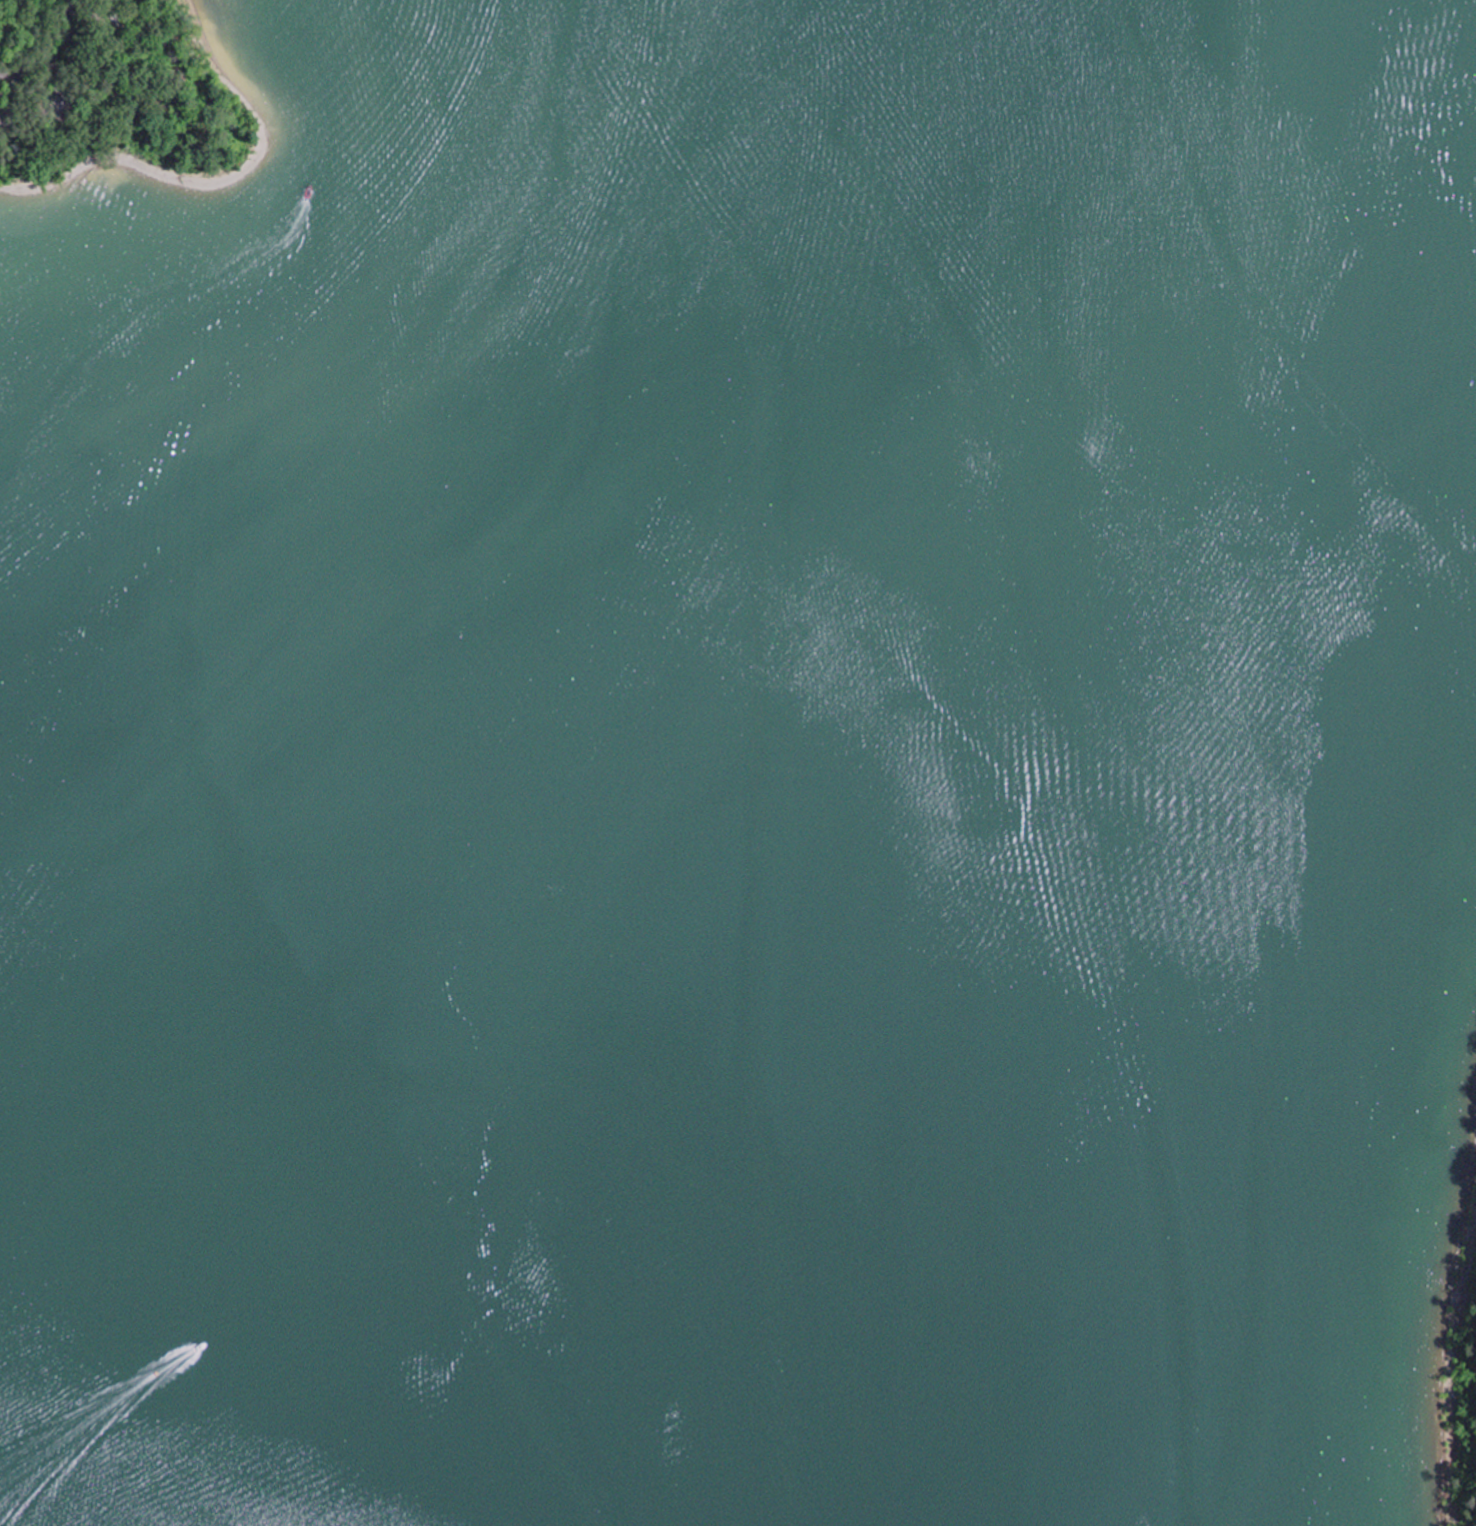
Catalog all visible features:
road: (51, 50)

